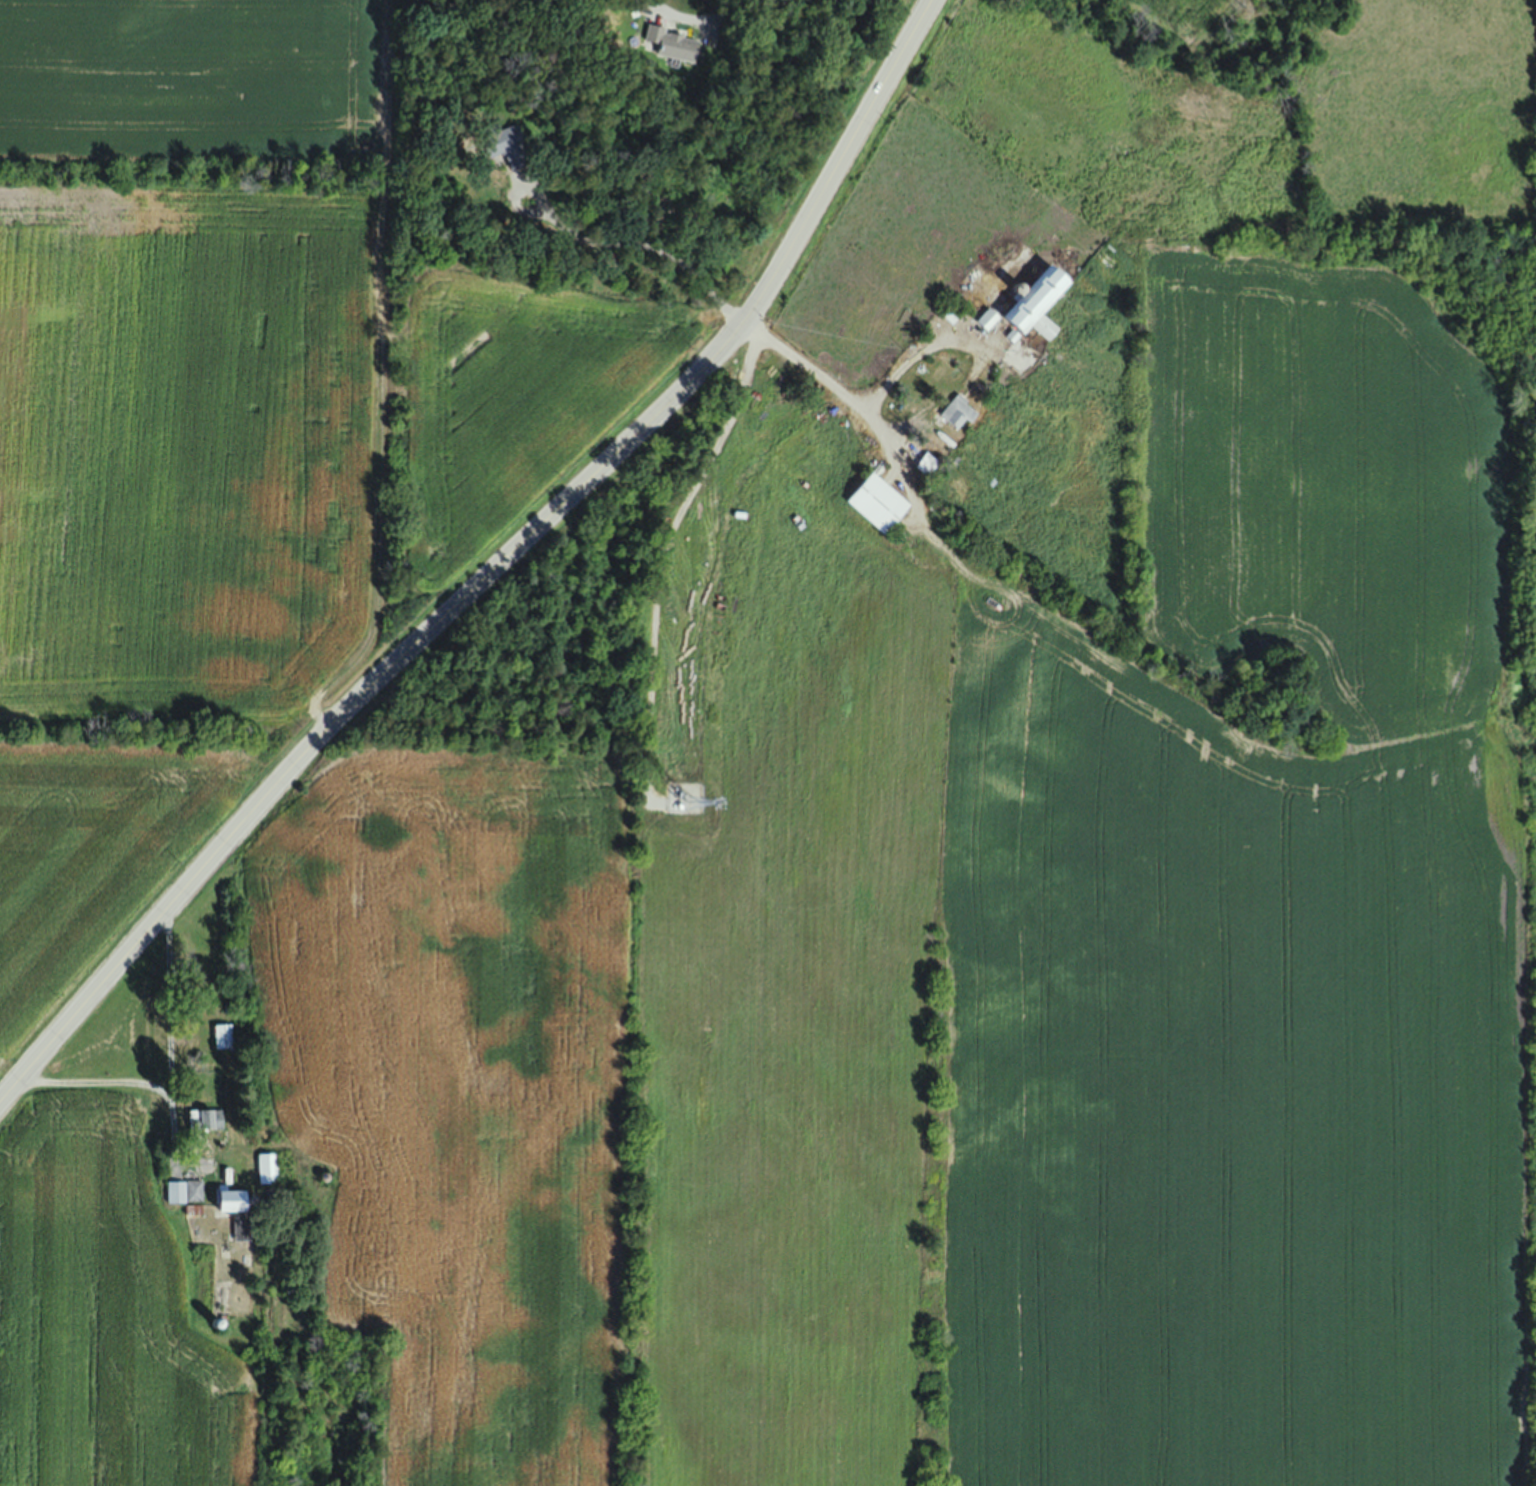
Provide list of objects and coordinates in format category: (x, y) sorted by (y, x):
road: (611, 239)
building: (966, 292)
building: (1045, 300)
building: (990, 318)
road: (854, 399)
building: (963, 411)
building: (931, 463)
building: (882, 501)
road: (493, 573)
building: (223, 1035)
road: (169, 1081)
building: (206, 1119)
building: (185, 1191)
building: (235, 1200)

